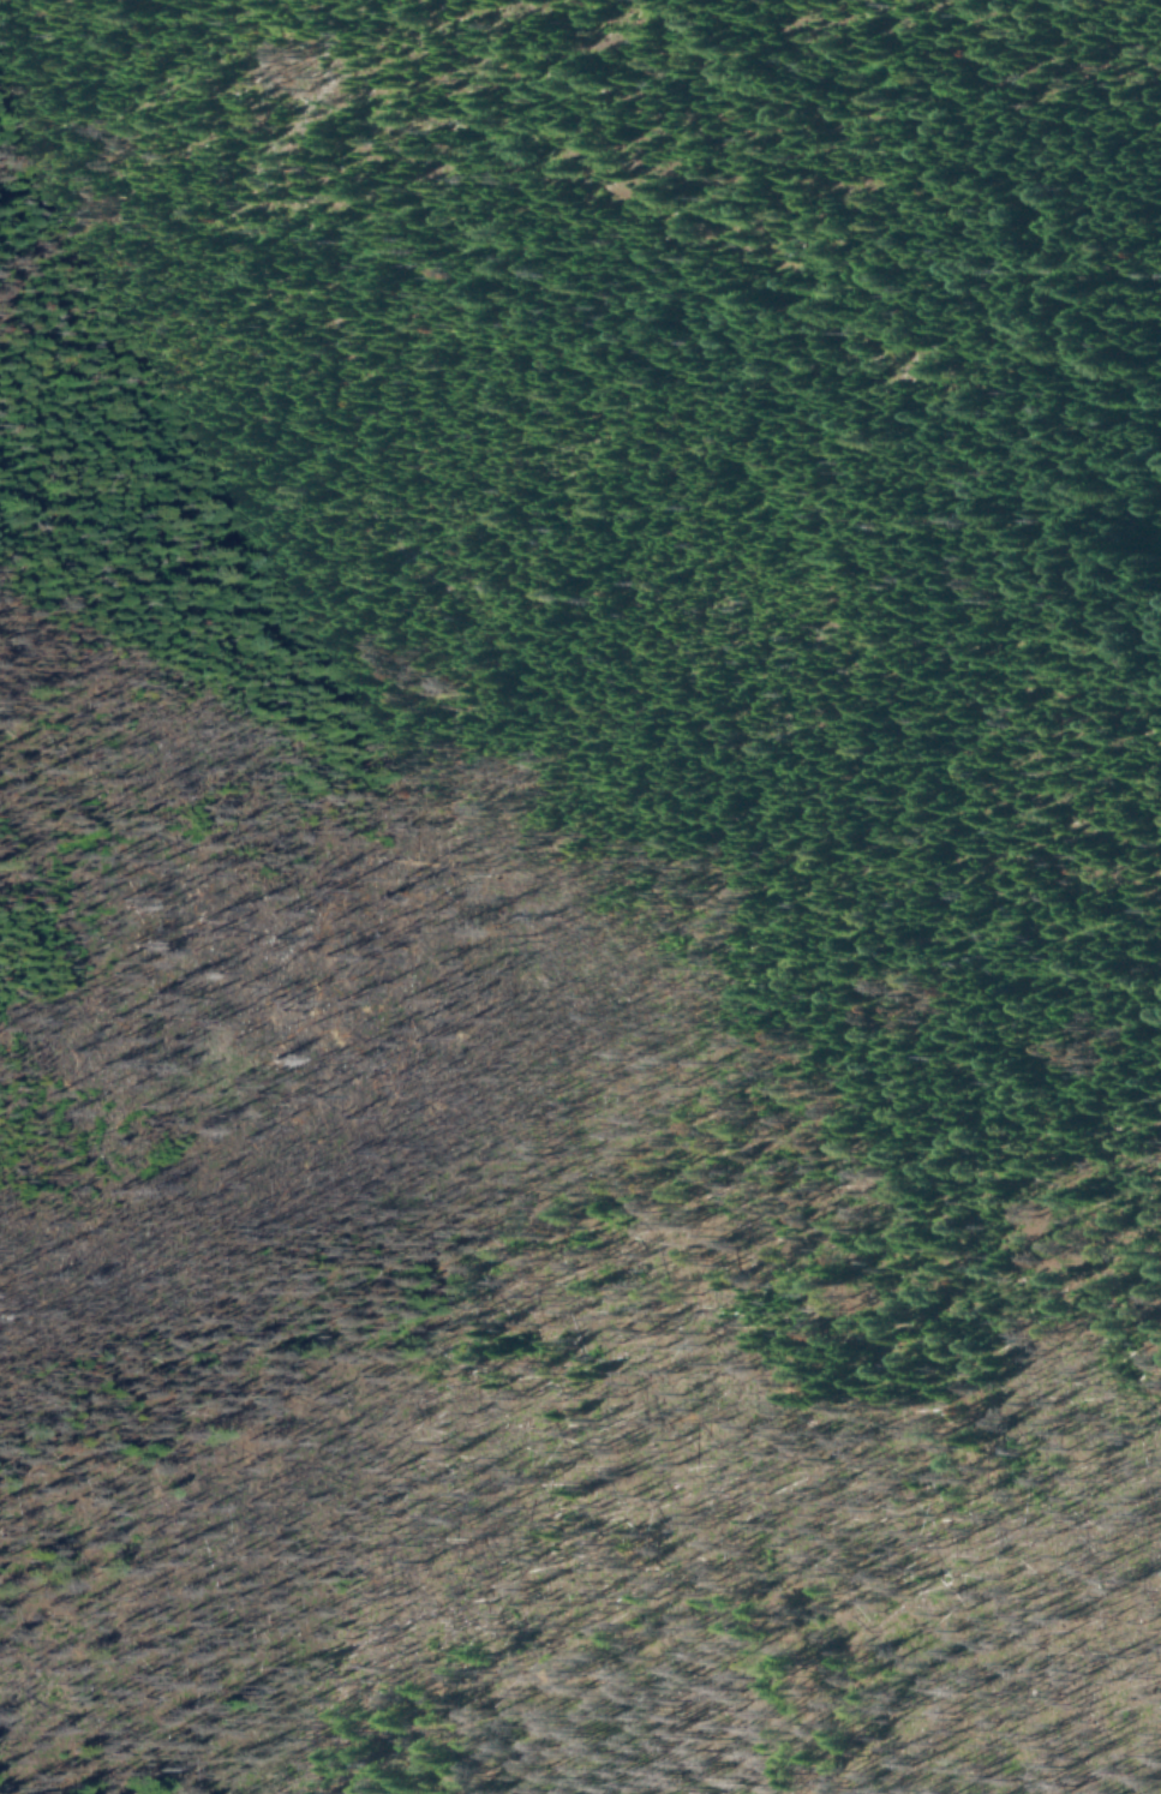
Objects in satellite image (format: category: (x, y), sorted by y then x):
road: (1151, 249)

